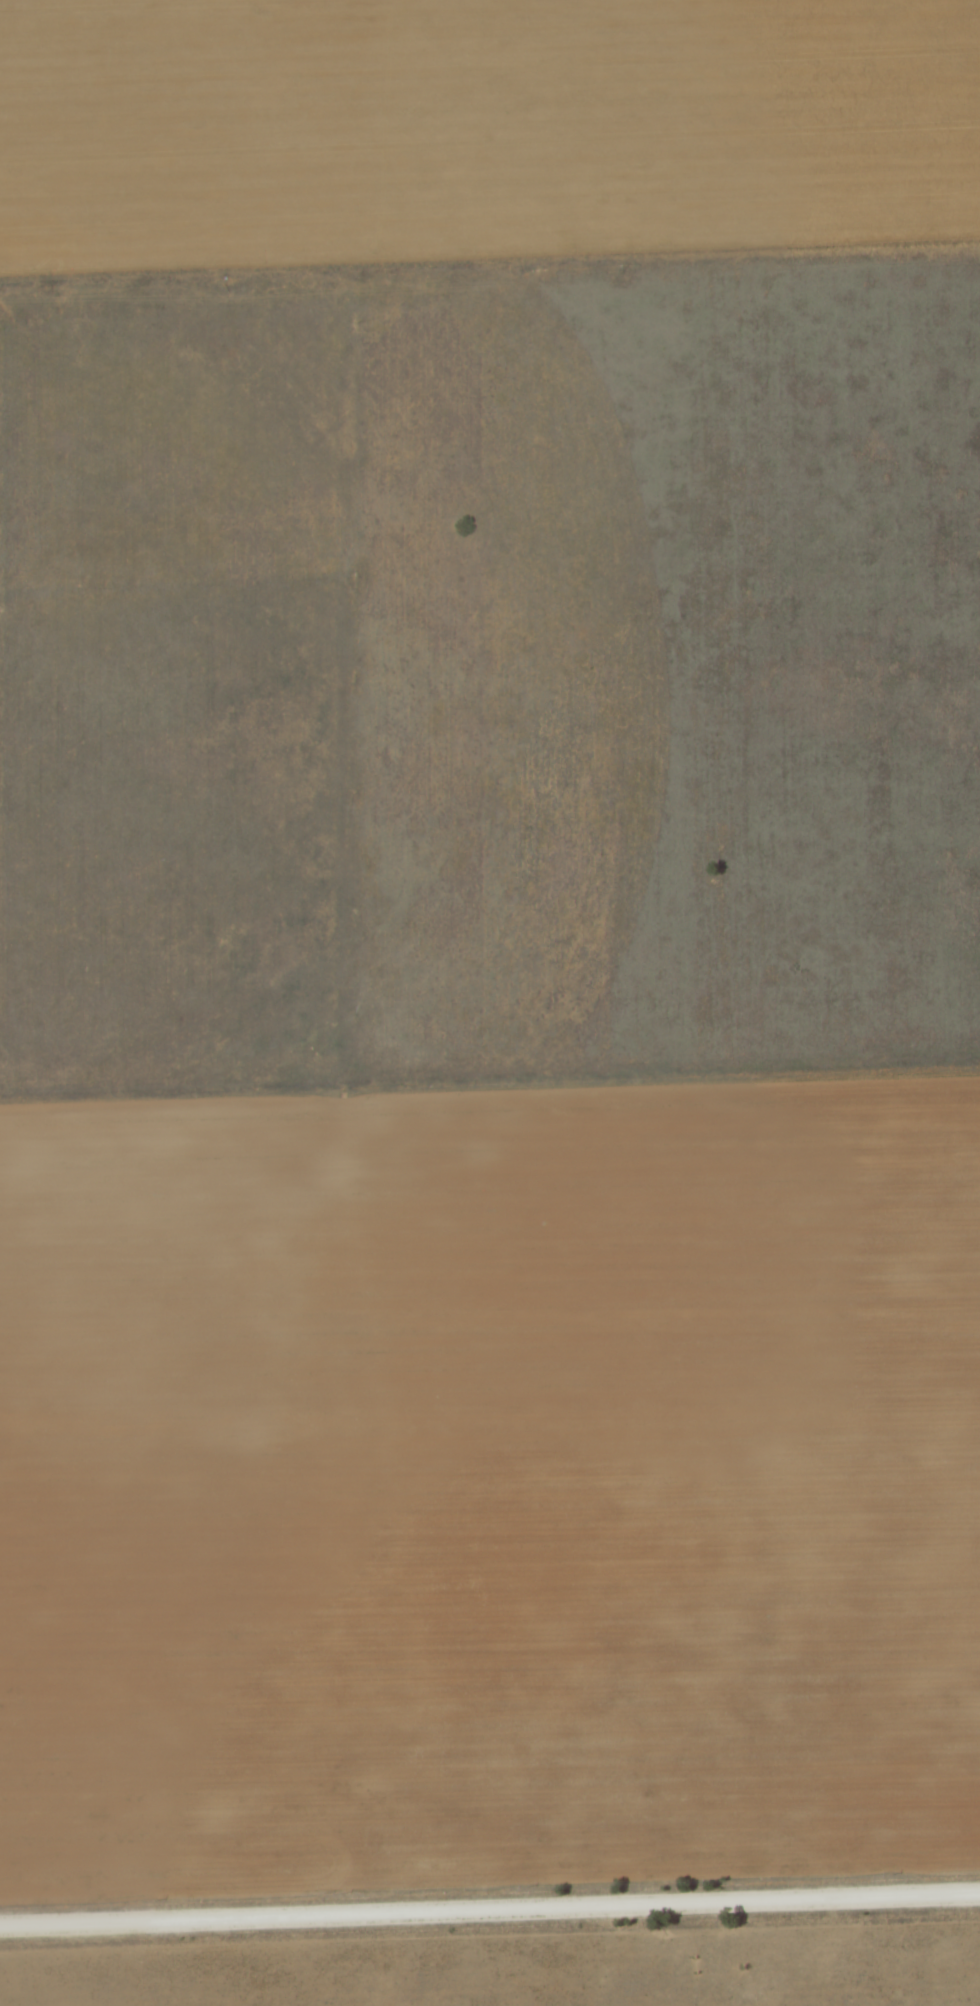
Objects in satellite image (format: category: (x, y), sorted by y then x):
road: (489, 1914)

